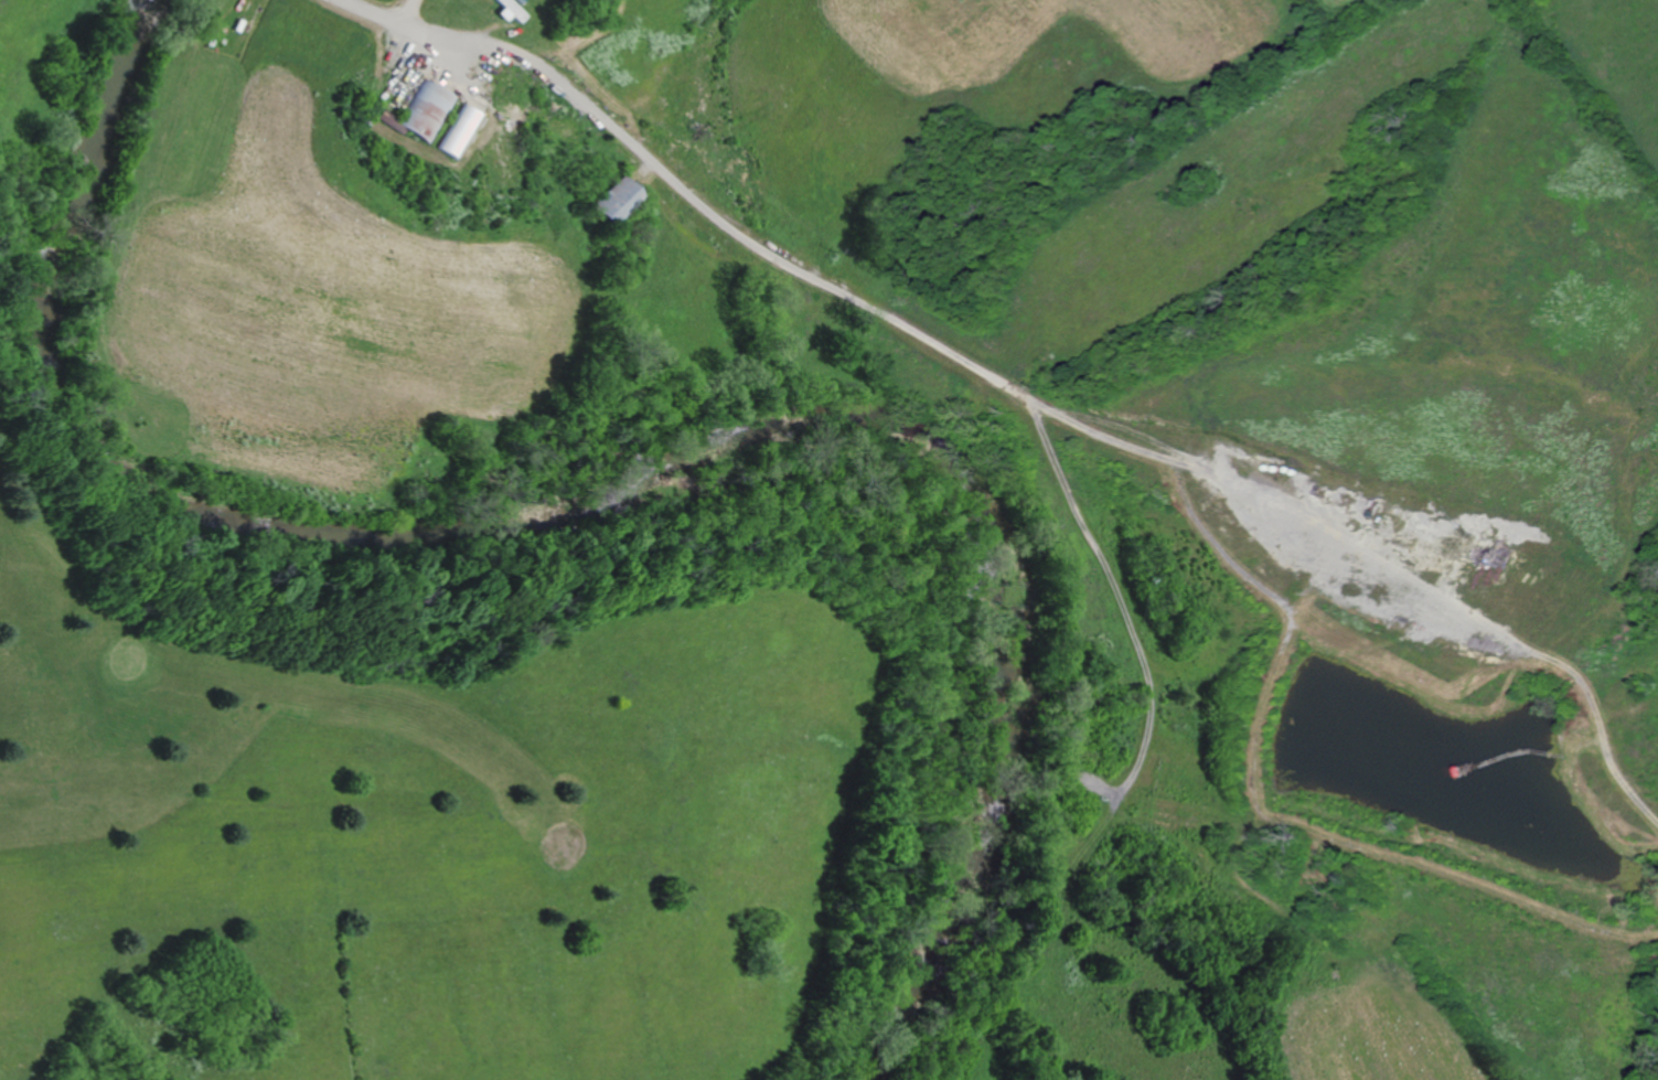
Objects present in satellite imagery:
building: (506, 10)
road: (378, 15)
road: (531, 72)
building: (424, 111)
building: (456, 131)
building: (601, 202)

